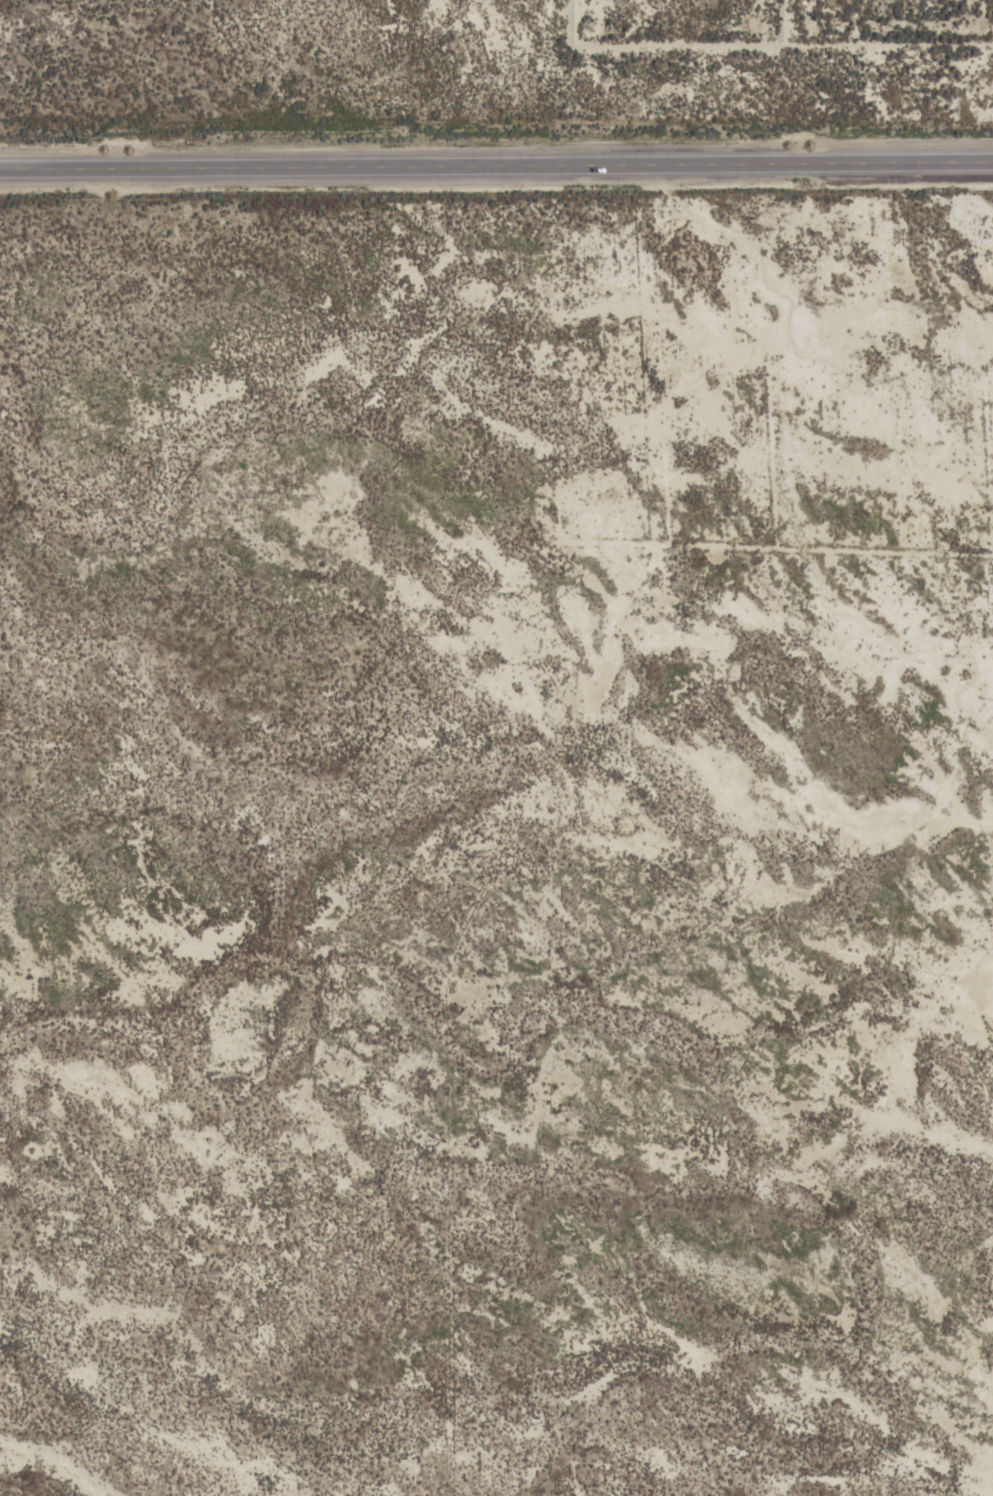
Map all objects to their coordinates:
road: (496, 172)

